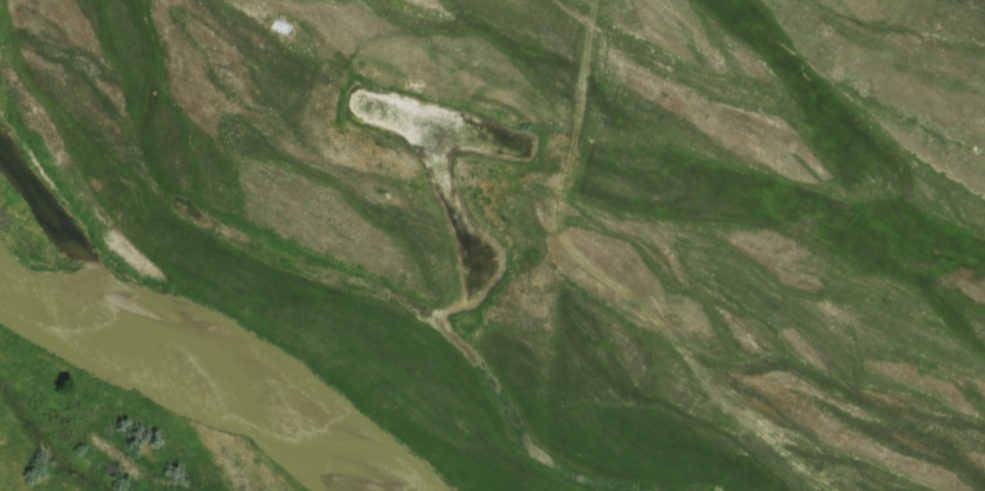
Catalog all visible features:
river: (200, 379)

